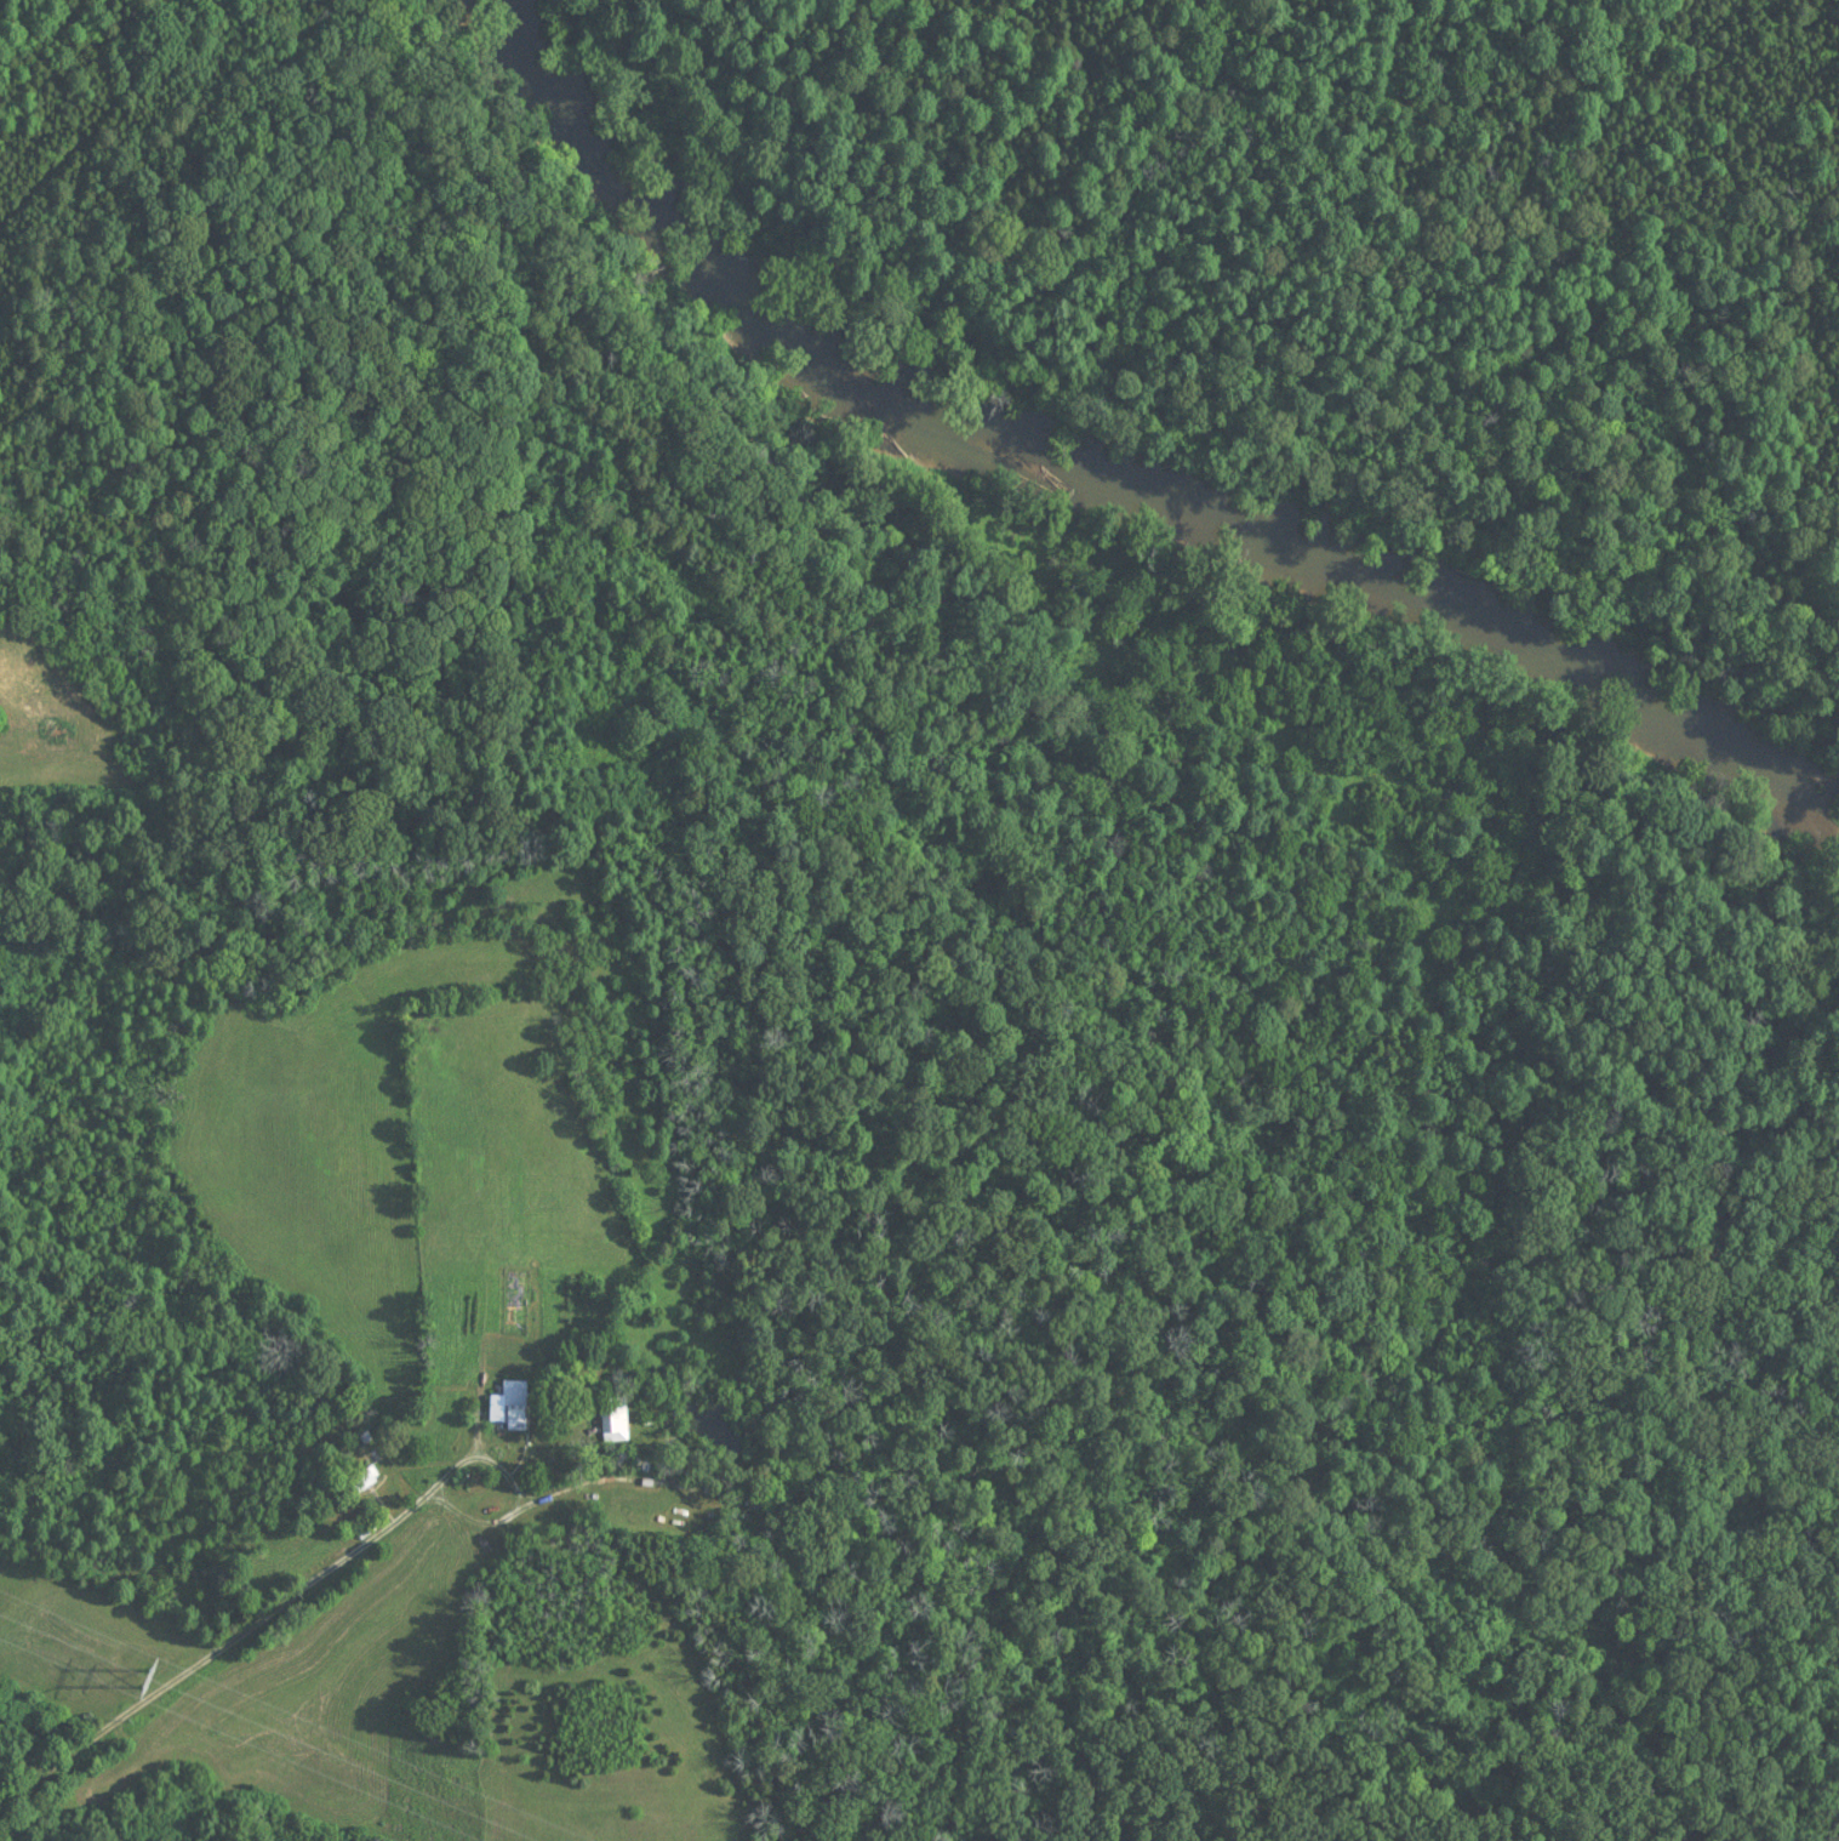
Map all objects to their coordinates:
river: (1104, 467)
building: (32, 701)
building: (507, 1406)
building: (611, 1420)
road: (242, 1632)
power tower: (144, 1680)

